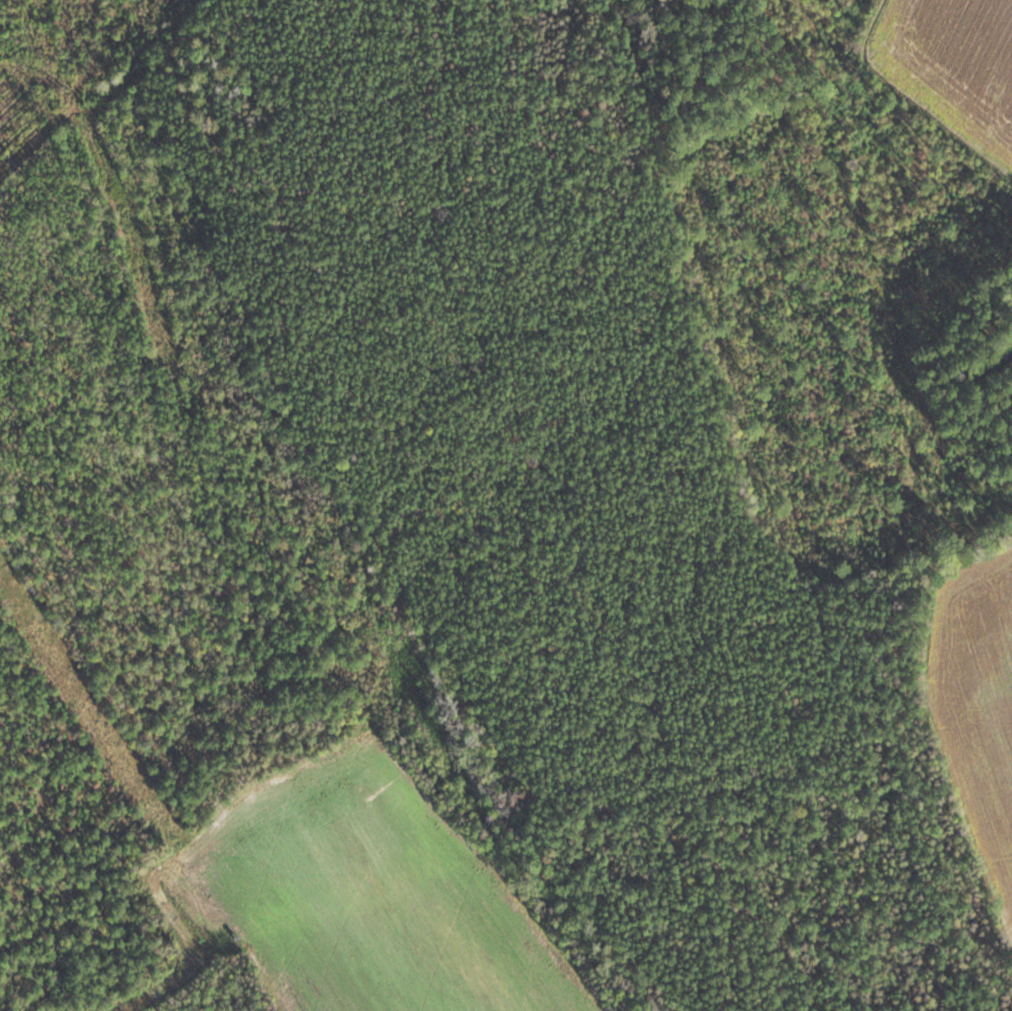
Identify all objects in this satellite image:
road: (164, 986)

